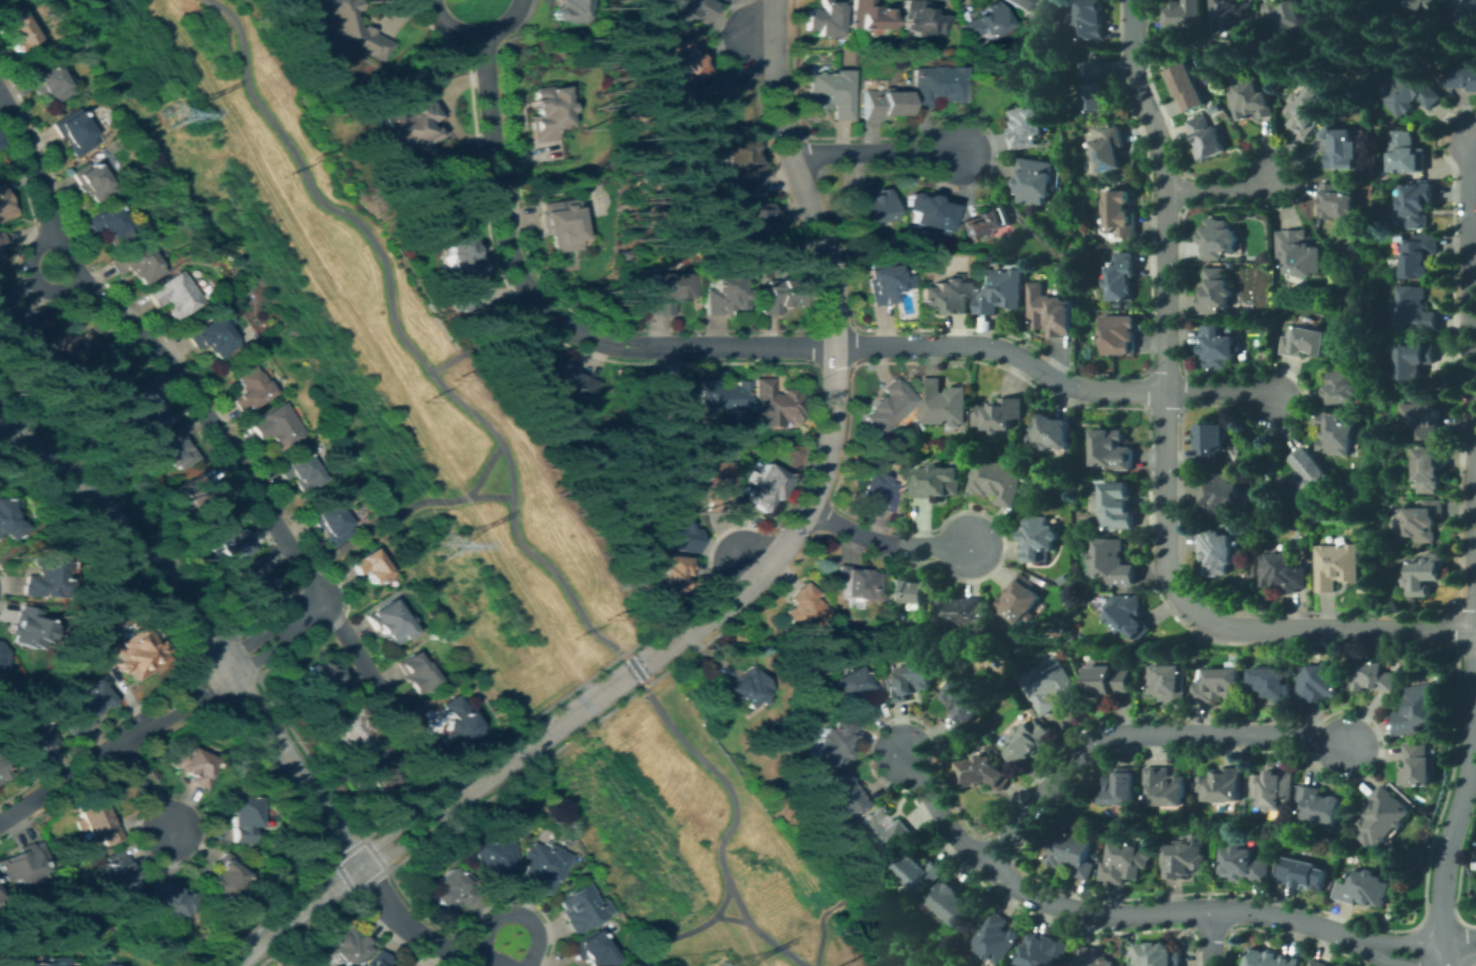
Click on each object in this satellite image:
building: (1324, 3)
building: (1020, 5)
building: (1423, 5)
building: (1465, 8)
building: (563, 9)
building: (682, 12)
building: (1232, 13)
building: (867, 15)
building: (1184, 15)
building: (1282, 15)
building: (825, 18)
building: (921, 19)
building: (1090, 19)
building: (986, 22)
building: (14, 29)
building: (342, 30)
road: (471, 35)
road: (759, 37)
building: (1080, 46)
park: (658, 54)
building: (684, 62)
building: (1462, 77)
building: (48, 82)
building: (936, 85)
building: (1094, 87)
building: (1189, 87)
building: (1413, 92)
building: (830, 93)
building: (1253, 101)
building: (713, 103)
building: (883, 104)
building: (544, 111)
building: (1307, 111)
power tower: (169, 115)
building: (405, 127)
building: (1027, 127)
building: (73, 131)
building: (1207, 138)
road: (1474, 139)
building: (1340, 146)
building: (1110, 150)
building: (1406, 153)
road: (873, 154)
power tower: (314, 155)
building: (735, 165)
power tower: (283, 175)
building: (90, 181)
building: (1037, 181)
road: (1224, 189)
park: (594, 201)
building: (5, 202)
building: (1336, 202)
building: (1417, 204)
building: (867, 206)
building: (925, 211)
building: (1118, 214)
building: (747, 220)
building: (988, 221)
building: (107, 223)
building: (560, 224)
building: (1218, 239)
building: (1, 241)
building: (1299, 253)
building: (1419, 256)
building: (0, 257)
building: (983, 258)
building: (138, 262)
building: (460, 269)
road: (27, 277)
building: (1121, 278)
building: (880, 280)
building: (999, 291)
building: (1216, 291)
building: (667, 292)
building: (174, 294)
building: (723, 295)
building: (780, 295)
building: (945, 297)
building: (4, 301)
road: (1168, 309)
building: (1416, 309)
road: (831, 310)
building: (1051, 311)
road: (547, 312)
road: (358, 328)
building: (17, 335)
building: (1119, 335)
building: (1249, 335)
building: (211, 336)
road: (402, 336)
road: (485, 338)
building: (1306, 341)
building: (77, 343)
park: (357, 343)
road: (153, 348)
road: (1004, 348)
building: (1218, 348)
road: (1472, 355)
building: (1414, 361)
building: (104, 374)
power tower: (454, 375)
building: (559, 381)
building: (250, 388)
building: (1343, 388)
road: (1222, 392)
power tower: (424, 397)
building: (722, 397)
building: (666, 398)
building: (944, 403)
building: (775, 404)
building: (887, 406)
building: (146, 409)
building: (1001, 414)
building: (1424, 415)
building: (277, 425)
building: (1054, 433)
building: (1338, 434)
building: (1213, 442)
building: (174, 448)
building: (1114, 450)
road: (484, 468)
building: (1428, 469)
building: (299, 470)
building: (1311, 475)
building: (1000, 481)
building: (938, 482)
building: (711, 484)
building: (764, 487)
building: (877, 491)
building: (199, 494)
building: (1225, 494)
road: (490, 495)
building: (1119, 506)
building: (331, 519)
building: (1424, 520)
building: (8, 521)
road: (384, 523)
building: (677, 530)
building: (1041, 539)
building: (229, 541)
power tower: (441, 543)
road: (885, 543)
road: (729, 548)
building: (1218, 552)
building: (1115, 561)
building: (370, 566)
building: (1339, 566)
building: (671, 570)
building: (1284, 573)
building: (1424, 575)
building: (46, 576)
building: (855, 583)
building: (257, 584)
road: (536, 584)
building: (906, 592)
building: (1023, 600)
road: (706, 605)
building: (803, 609)
building: (963, 612)
power tower: (606, 616)
building: (1129, 616)
road: (716, 619)
building: (387, 622)
building: (109, 626)
building: (28, 628)
road: (198, 628)
road: (1335, 629)
power tower: (574, 637)
building: (130, 652)
road: (354, 652)
building: (1, 657)
road: (566, 659)
road: (634, 667)
building: (415, 672)
building: (322, 676)
building: (1375, 676)
building: (1107, 680)
building: (909, 682)
building: (1167, 683)
building: (1318, 683)
building: (1049, 684)
building: (1271, 684)
building: (1217, 685)
building: (853, 688)
building: (748, 690)
building: (965, 699)
building: (82, 706)
building: (37, 708)
building: (1418, 710)
road: (162, 714)
road: (563, 718)
building: (456, 722)
building: (353, 732)
road: (1141, 734)
building: (31, 739)
building: (1029, 741)
building: (834, 743)
road: (661, 764)
building: (192, 765)
building: (1418, 765)
building: (379, 769)
building: (2, 772)
building: (984, 772)
building: (1222, 785)
building: (1166, 787)
building: (1120, 788)
road: (144, 789)
building: (1274, 789)
building: (843, 796)
building: (1322, 807)
building: (1383, 817)
building: (241, 818)
building: (97, 819)
road: (403, 823)
road: (729, 826)
building: (880, 831)
road: (412, 836)
park: (681, 842)
building: (1073, 853)
road: (1448, 853)
road: (369, 857)
building: (1184, 859)
building: (495, 860)
building: (23, 862)
building: (1126, 863)
building: (1245, 864)
building: (543, 865)
building: (920, 872)
building: (115, 874)
building: (1303, 874)
building: (222, 876)
road: (862, 883)
building: (1365, 889)
building: (453, 890)
building: (170, 900)
building: (954, 902)
building: (581, 908)
road: (292, 913)
road: (1143, 913)
road: (515, 915)
road: (730, 918)
road: (680, 933)
road: (418, 935)
building: (998, 938)
road: (1214, 938)
road: (747, 944)
building: (347, 945)
road: (1461, 948)
building: (591, 950)
building: (1045, 951)
building: (1159, 955)
building: (1096, 957)
building: (1271, 958)
building: (57, 959)
building: (375, 960)
building: (1319, 963)
building: (636, 964)
building: (106, 965)
building: (117, 965)

